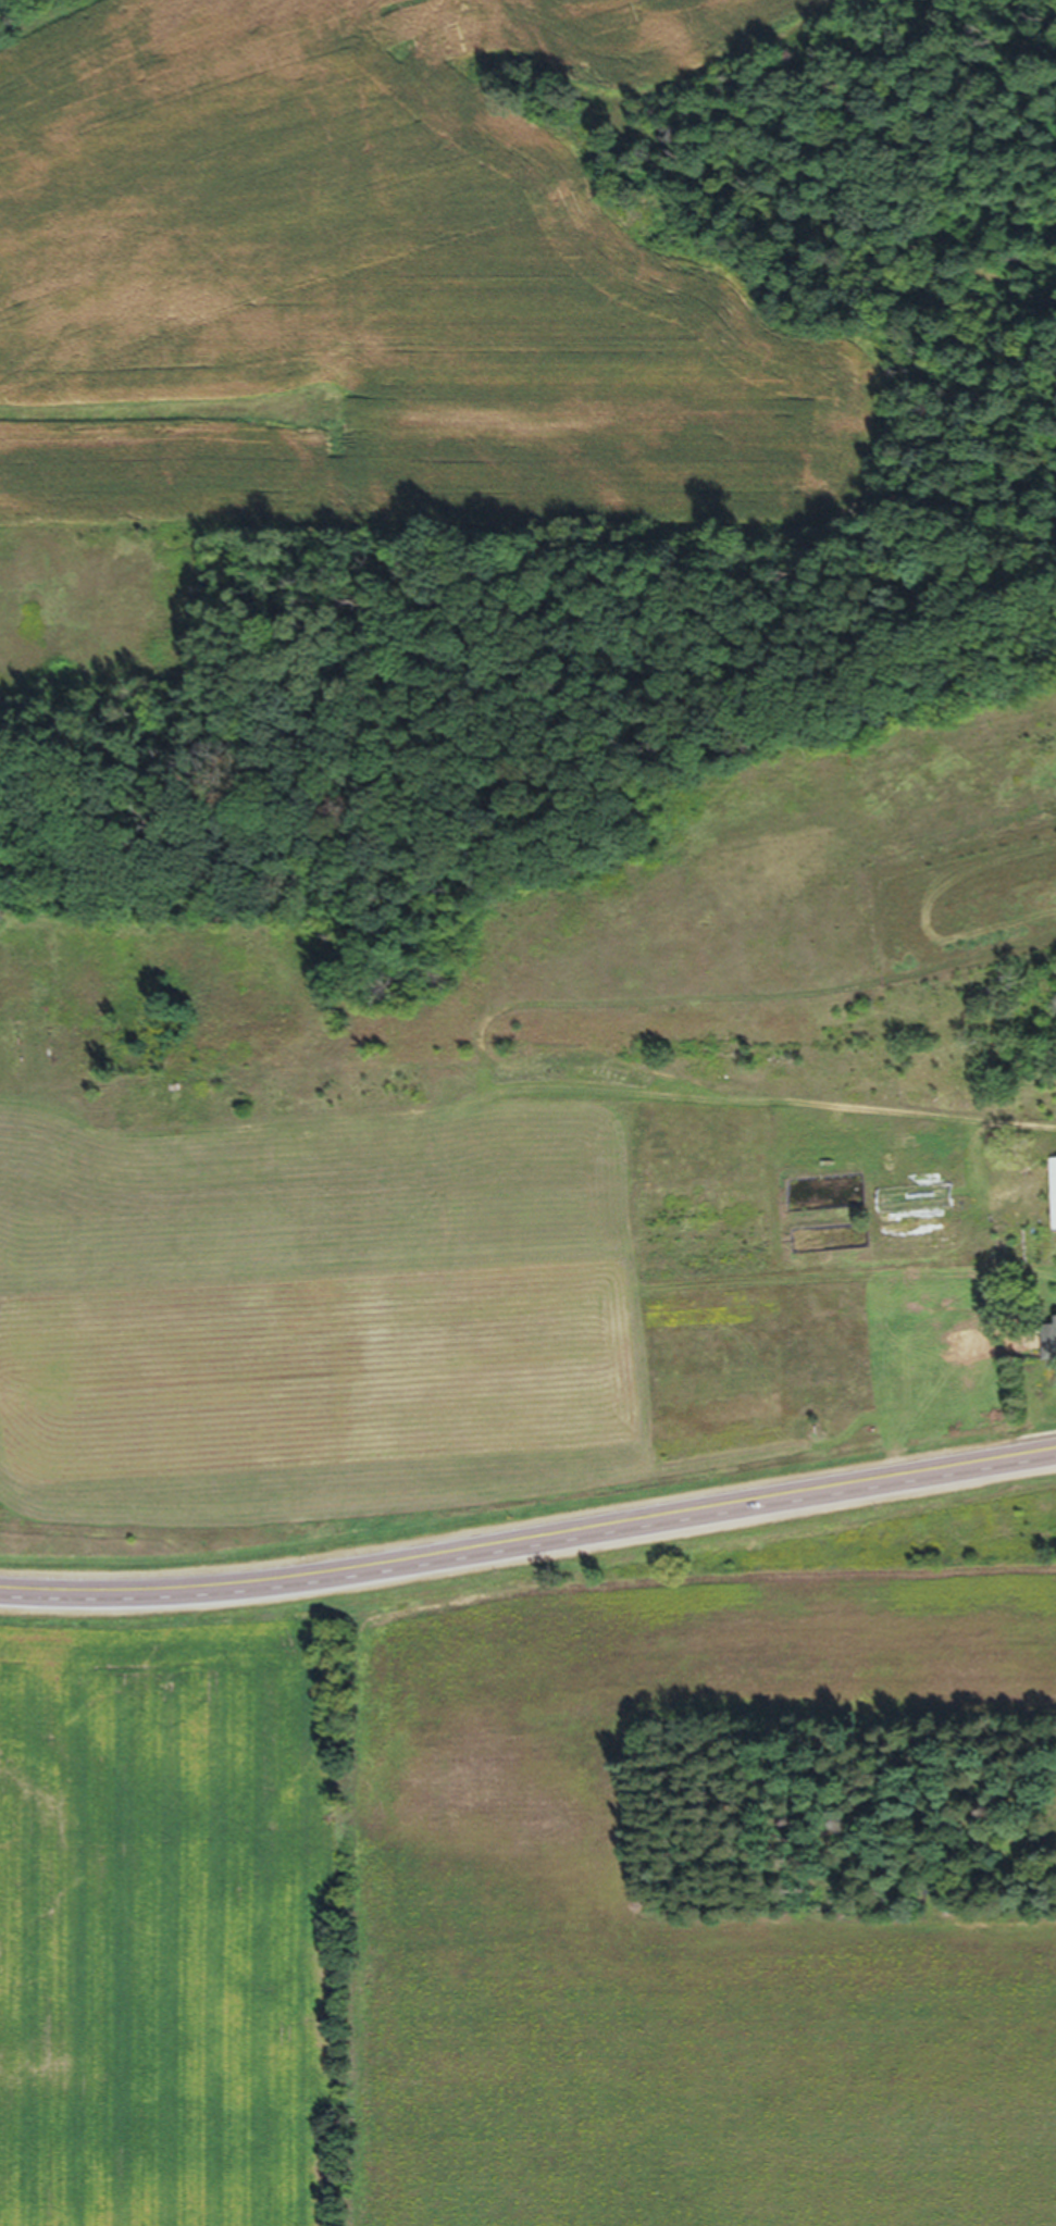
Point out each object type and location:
building: (1052, 1199)
building: (911, 1206)
building: (996, 1254)
building: (1024, 1254)
building: (1051, 1343)
road: (530, 1538)

